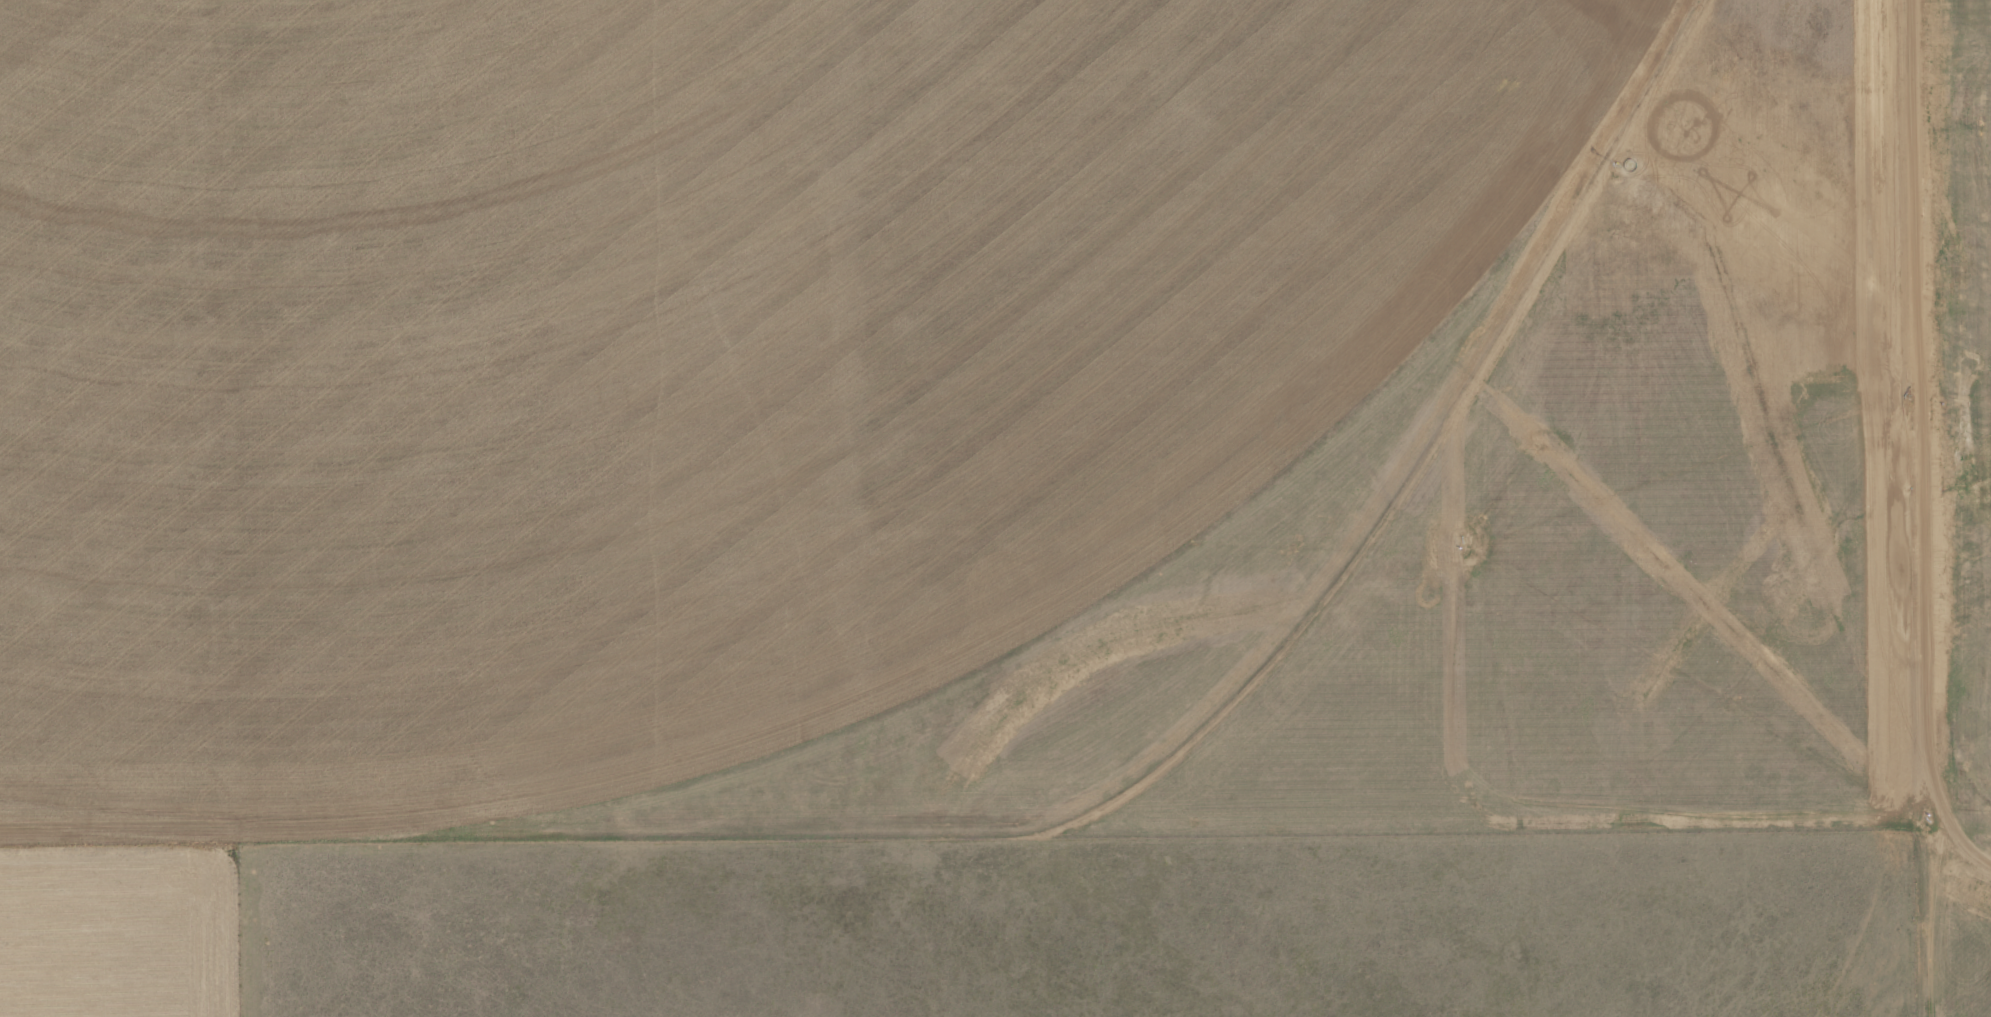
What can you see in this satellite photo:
road: (1710, 508)

